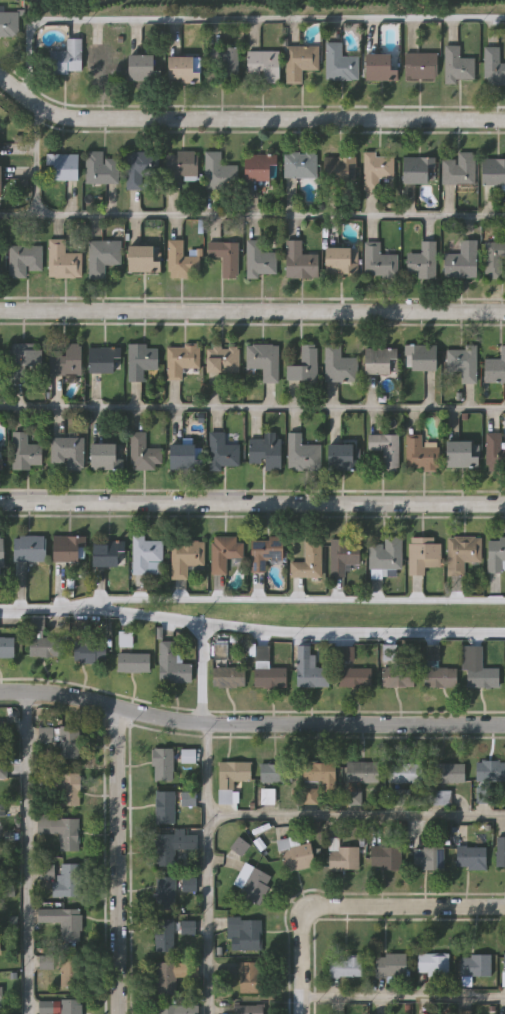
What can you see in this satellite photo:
road: (230, 17)
building: (9, 23)
building: (66, 58)
building: (300, 60)
building: (225, 62)
building: (337, 63)
building: (98, 64)
building: (261, 65)
building: (420, 65)
building: (141, 66)
building: (457, 66)
building: (378, 67)
building: (493, 67)
building: (183, 69)
road: (245, 117)
road: (37, 161)
building: (299, 165)
building: (64, 166)
building: (180, 167)
building: (260, 167)
building: (101, 168)
building: (376, 169)
building: (457, 169)
building: (139, 170)
building: (339, 170)
building: (418, 170)
building: (219, 172)
building: (493, 172)
building: (0, 182)
road: (252, 216)
building: (103, 255)
building: (224, 257)
building: (493, 258)
building: (23, 259)
building: (142, 259)
building: (62, 260)
building: (259, 260)
building: (339, 260)
building: (181, 261)
building: (300, 261)
building: (422, 261)
building: (461, 261)
building: (378, 262)
road: (252, 310)
building: (421, 358)
building: (22, 359)
building: (223, 359)
building: (102, 360)
building: (141, 360)
building: (180, 360)
building: (66, 361)
building: (263, 361)
building: (381, 361)
building: (461, 362)
building: (304, 365)
building: (339, 366)
building: (495, 367)
road: (252, 406)
building: (385, 449)
building: (224, 451)
building: (25, 452)
building: (67, 452)
building: (144, 453)
building: (265, 453)
building: (494, 453)
building: (302, 454)
building: (421, 454)
building: (460, 455)
building: (103, 456)
building: (184, 458)
building: (340, 458)
building: (0, 464)
road: (252, 502)
building: (29, 548)
building: (68, 549)
building: (1, 552)
building: (223, 552)
building: (264, 552)
building: (462, 553)
building: (106, 554)
building: (385, 554)
building: (496, 554)
building: (343, 555)
building: (146, 556)
building: (424, 557)
building: (187, 558)
building: (307, 562)
road: (281, 599)
road: (30, 610)
road: (282, 633)
building: (6, 647)
building: (45, 647)
building: (89, 652)
building: (133, 662)
building: (171, 664)
building: (477, 669)
building: (309, 670)
road: (203, 673)
building: (354, 676)
building: (401, 676)
building: (229, 677)
building: (270, 677)
building: (440, 677)
road: (250, 723)
building: (45, 734)
building: (68, 742)
building: (187, 755)
building: (162, 764)
building: (3, 769)
building: (490, 770)
building: (361, 771)
building: (275, 772)
building: (405, 772)
building: (449, 772)
building: (230, 777)
building: (318, 778)
building: (69, 789)
building: (440, 795)
building: (267, 796)
building: (397, 797)
building: (187, 798)
building: (164, 807)
road: (355, 815)
building: (61, 831)
building: (171, 847)
building: (500, 851)
road: (25, 852)
building: (295, 853)
building: (343, 857)
building: (385, 857)
building: (471, 857)
building: (430, 858)
road: (117, 861)
road: (206, 868)
building: (66, 880)
building: (255, 885)
building: (165, 892)
road: (356, 905)
building: (45, 915)
building: (70, 924)
building: (245, 931)
building: (163, 934)
building: (0, 952)
building: (390, 964)
building: (432, 964)
building: (475, 965)
building: (344, 966)
building: (69, 969)
building: (503, 969)
building: (171, 974)
building: (250, 976)
building: (0, 992)
road: (401, 997)
building: (70, 1006)
building: (176, 1009)
building: (248, 1009)
building: (464, 1012)

